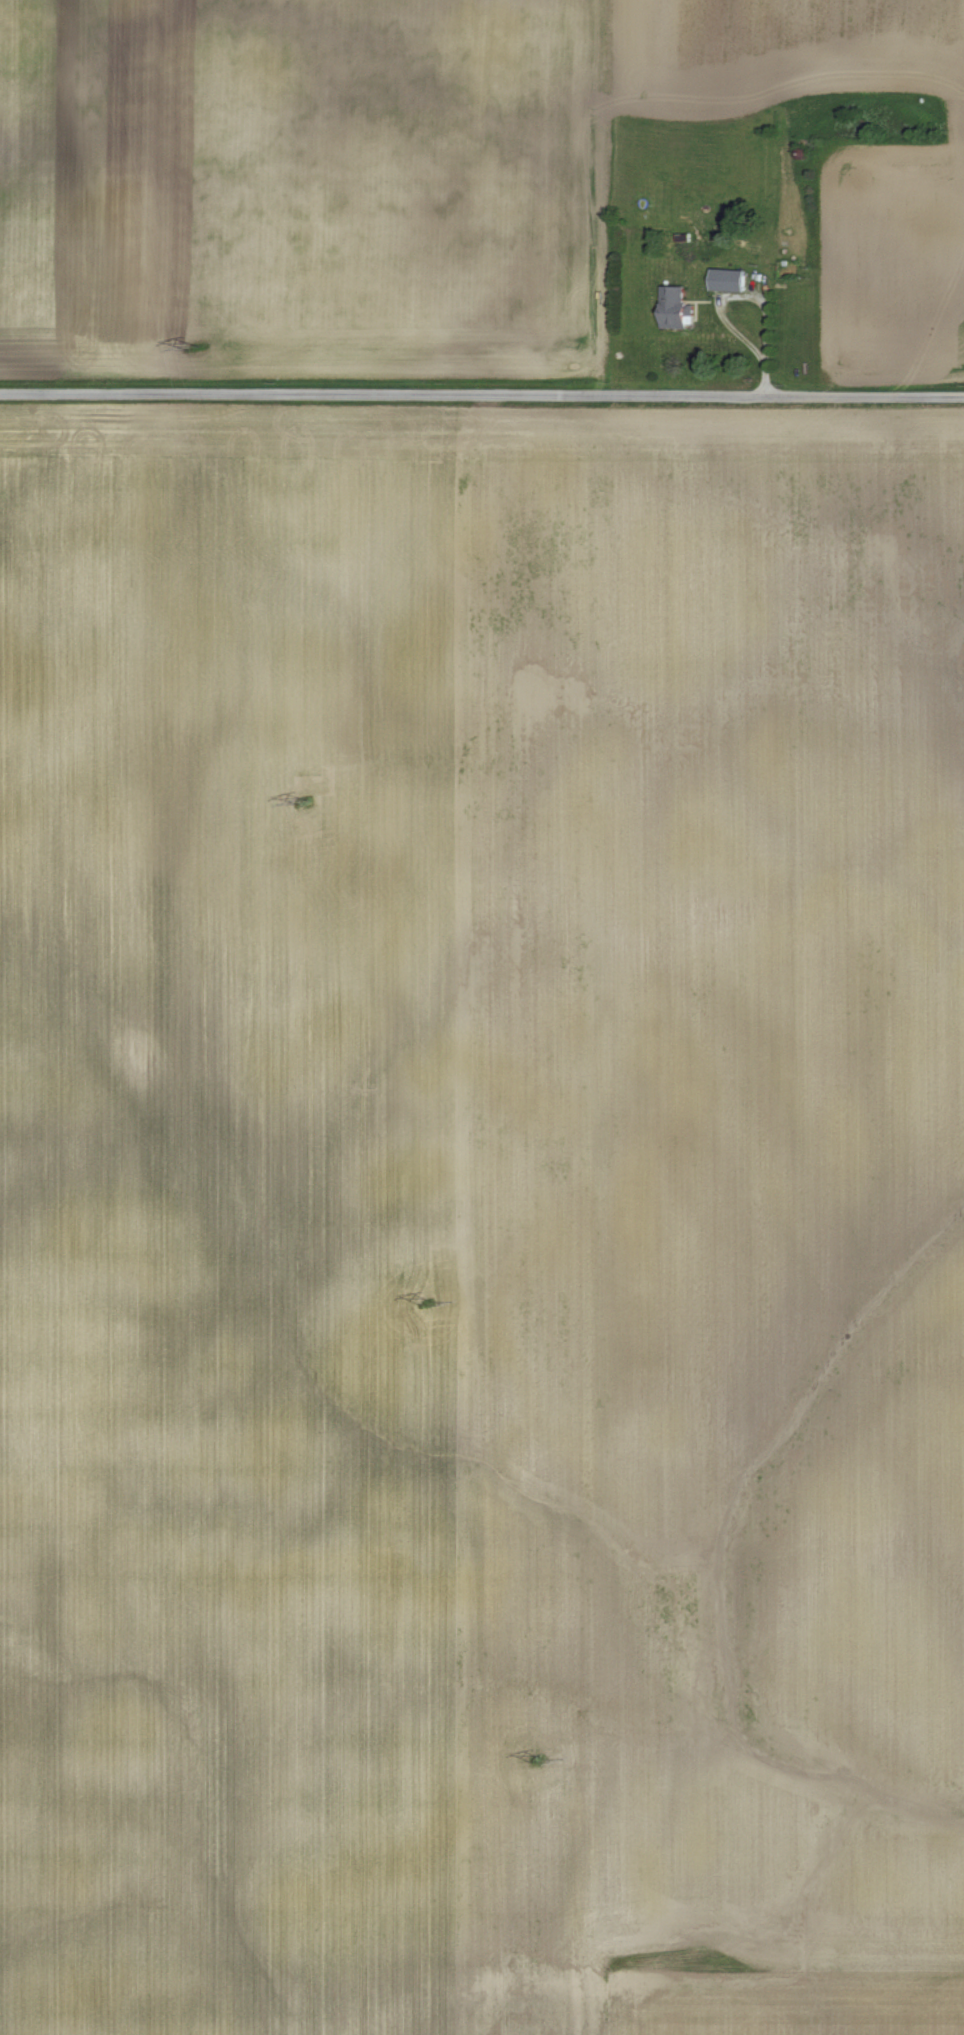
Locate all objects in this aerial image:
building: (733, 281)
road: (752, 297)
building: (680, 309)
power tower: (192, 348)
road: (481, 395)
power tower: (303, 801)
power tower: (425, 1301)
power tower: (535, 1757)

